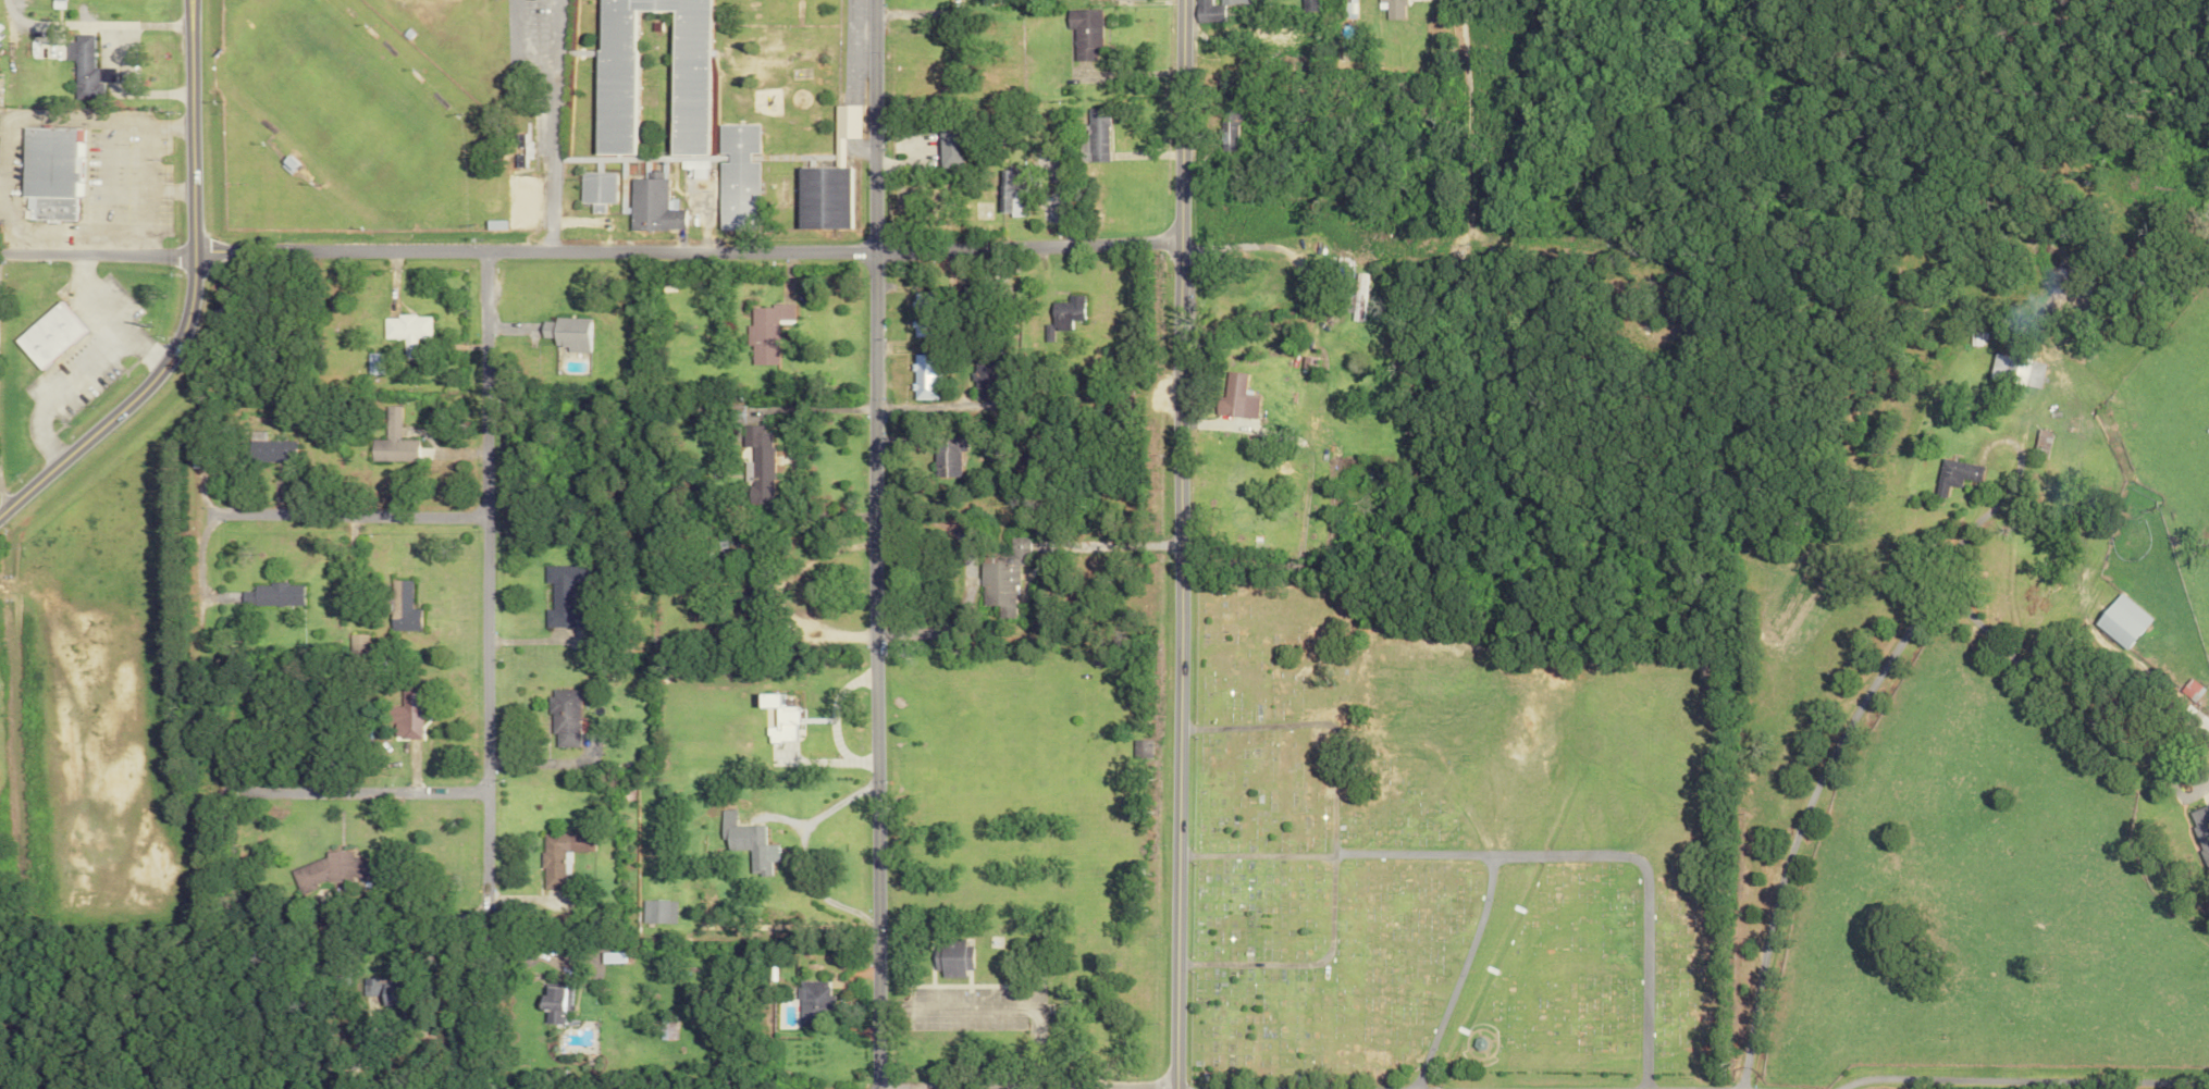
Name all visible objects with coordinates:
building: (1125, 0)
building: (1305, 3)
building: (1389, 9)
building: (1211, 10)
building: (1082, 32)
road: (122, 58)
building: (83, 69)
building: (686, 82)
road: (29, 116)
road: (551, 125)
building: (842, 125)
building: (1225, 126)
road: (1465, 129)
building: (1095, 134)
building: (946, 147)
building: (520, 152)
building: (50, 171)
building: (736, 176)
road: (108, 187)
building: (595, 189)
road: (148, 190)
building: (822, 197)
building: (652, 205)
building: (493, 224)
road: (877, 252)
road: (95, 255)
road: (187, 295)
building: (920, 298)
building: (1355, 298)
road: (91, 299)
building: (1063, 313)
building: (920, 326)
building: (404, 331)
building: (765, 332)
building: (566, 333)
building: (49, 334)
building: (370, 363)
building: (2012, 370)
road: (76, 374)
building: (923, 376)
building: (982, 376)
building: (1234, 397)
building: (391, 441)
building: (266, 448)
building: (947, 453)
building: (757, 461)
building: (1952, 475)
road: (3, 495)
road: (306, 512)
road: (873, 544)
road: (1172, 544)
building: (999, 577)
building: (269, 594)
building: (560, 595)
building: (399, 607)
road: (482, 608)
building: (2120, 620)
road: (2069, 704)
building: (405, 713)
building: (559, 716)
building: (2194, 723)
road: (353, 790)
road: (1821, 805)
building: (2200, 831)
road: (1329, 842)
building: (744, 843)
park: (1445, 846)
road: (1449, 854)
building: (555, 855)
building: (325, 870)
road: (1637, 892)
building: (653, 912)
building: (606, 957)
building: (948, 957)
building: (370, 987)
building: (809, 1002)
building: (550, 1003)
road: (994, 1008)
building: (662, 1029)
road: (2020, 1077)
road: (661, 1085)

